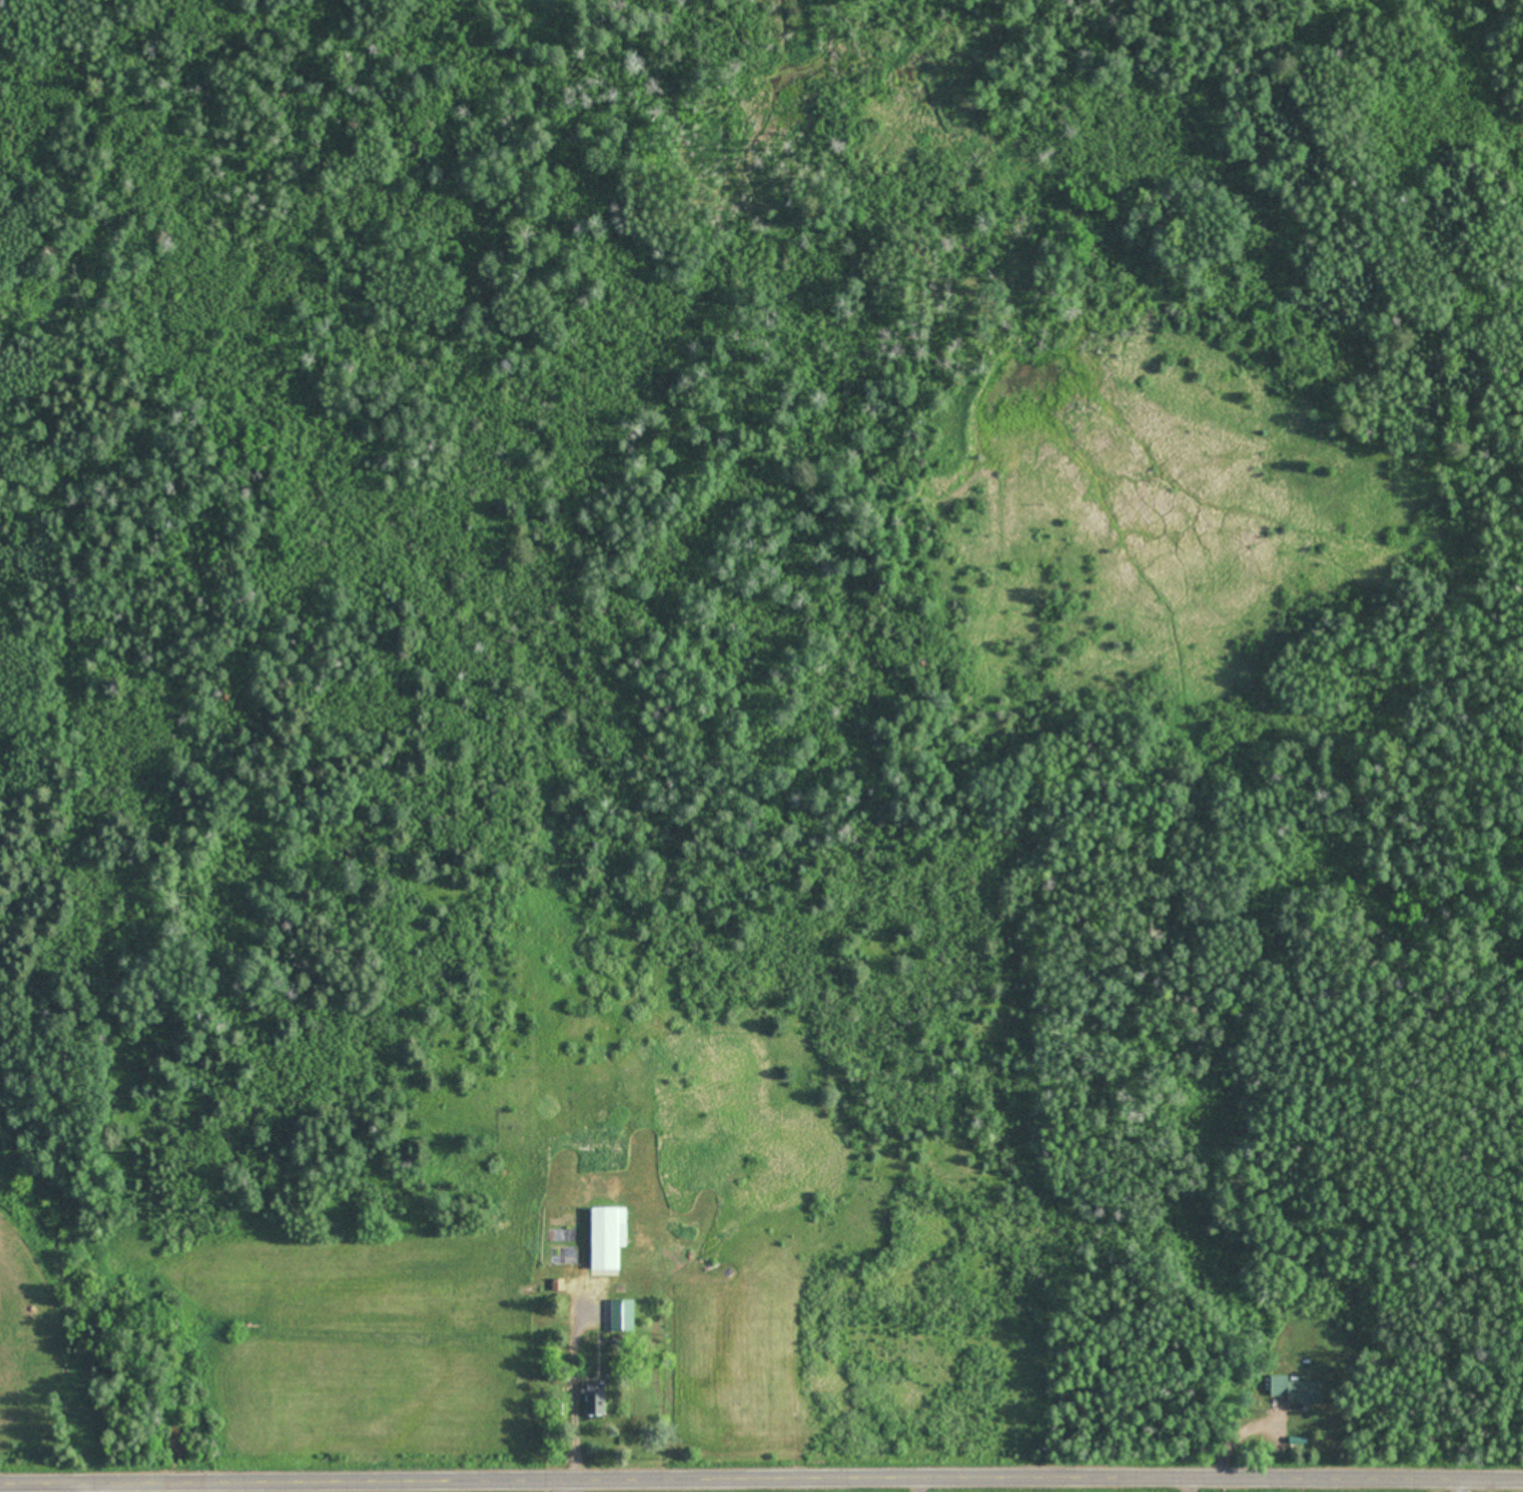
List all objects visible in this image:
building: (606, 1239)
building: (618, 1315)
building: (1297, 1390)
building: (596, 1398)
road: (761, 1472)
road: (88, 1487)

